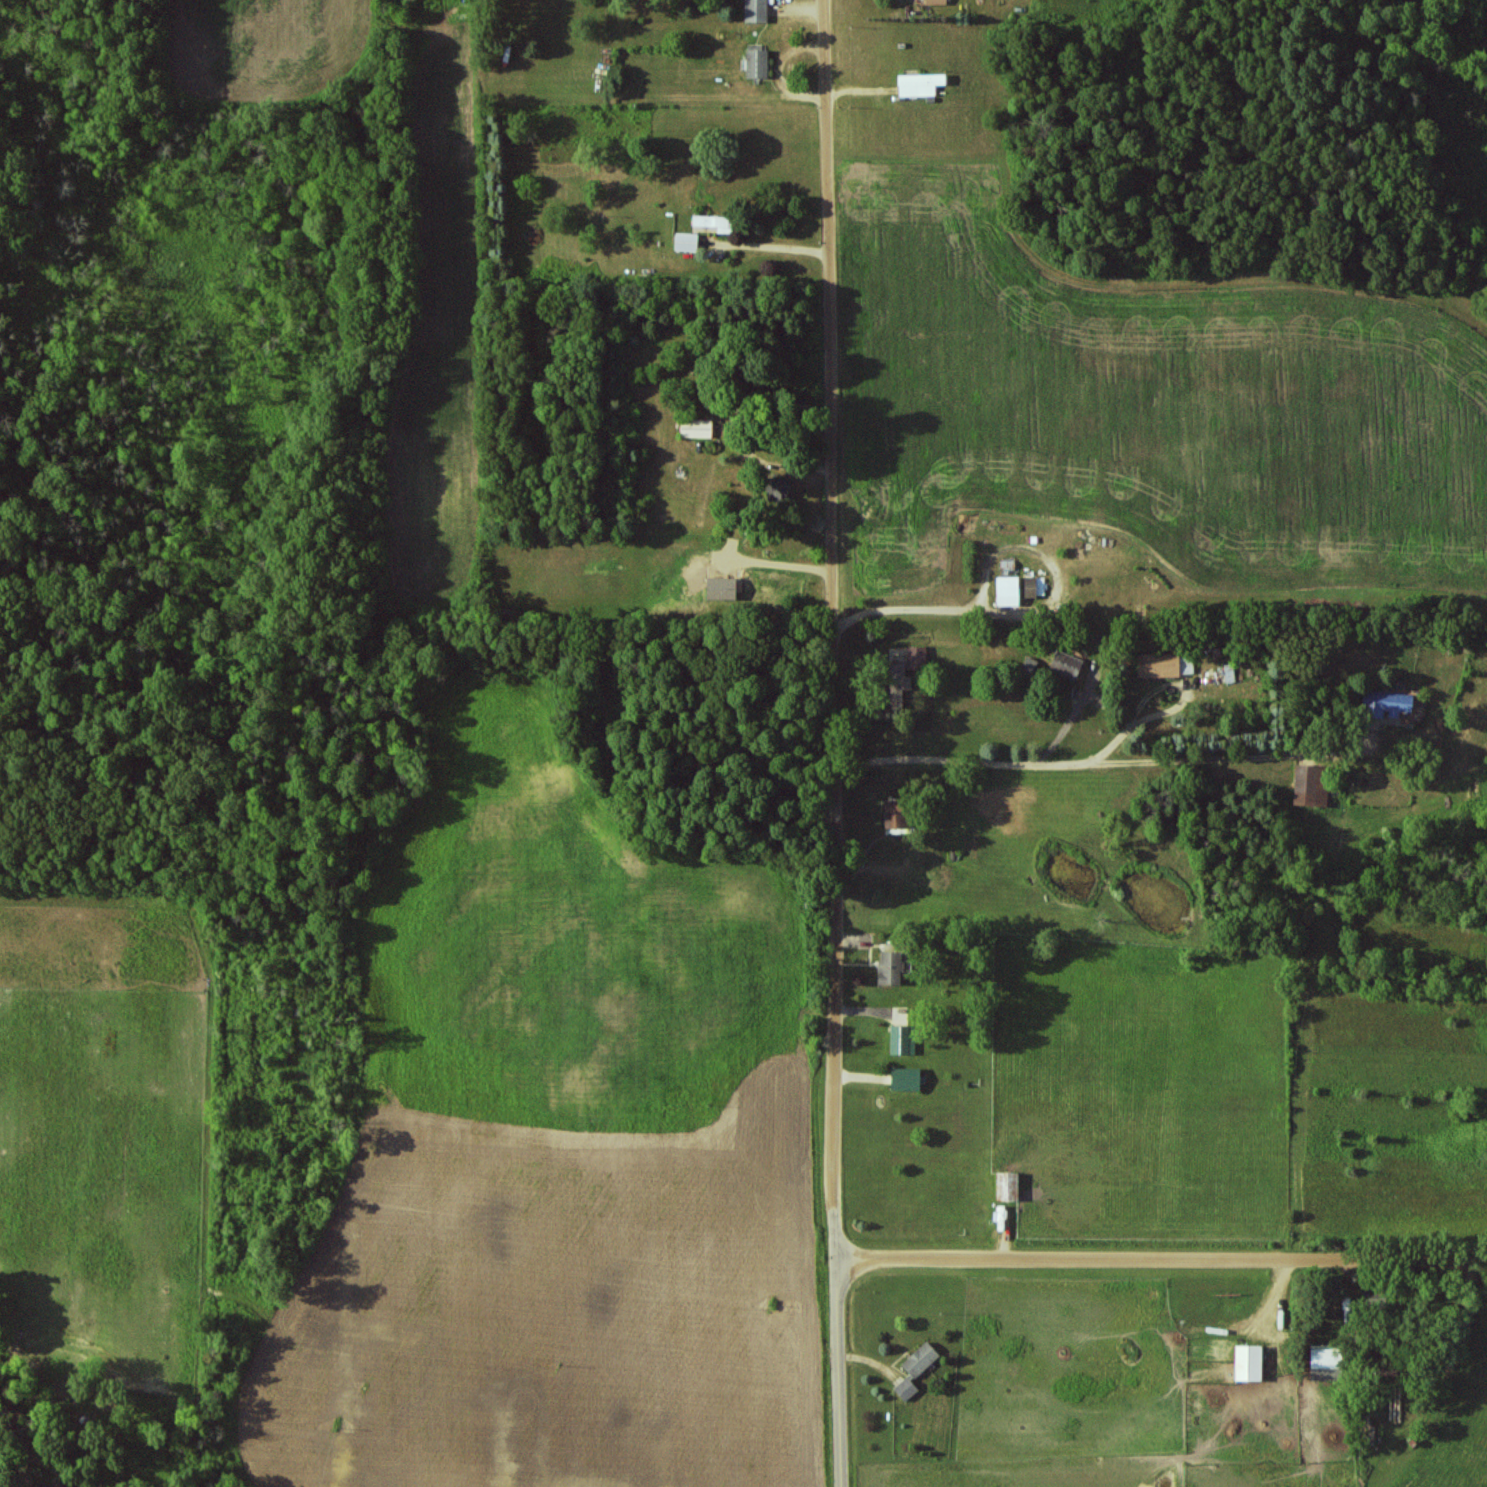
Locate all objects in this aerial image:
building: (937, 2)
building: (758, 10)
building: (760, 63)
building: (922, 84)
building: (718, 223)
building: (688, 242)
road: (769, 251)
building: (698, 428)
building: (1036, 586)
building: (725, 588)
building: (1009, 591)
building: (918, 657)
building: (1165, 664)
building: (1029, 665)
building: (1068, 665)
building: (906, 682)
building: (1393, 702)
road: (833, 743)
road: (1117, 763)
building: (1311, 786)
building: (897, 813)
building: (892, 968)
building: (903, 1040)
building: (908, 1079)
building: (1011, 1187)
road: (1161, 1259)
building: (1333, 1357)
building: (1252, 1363)
building: (918, 1369)
building: (39, 1486)

